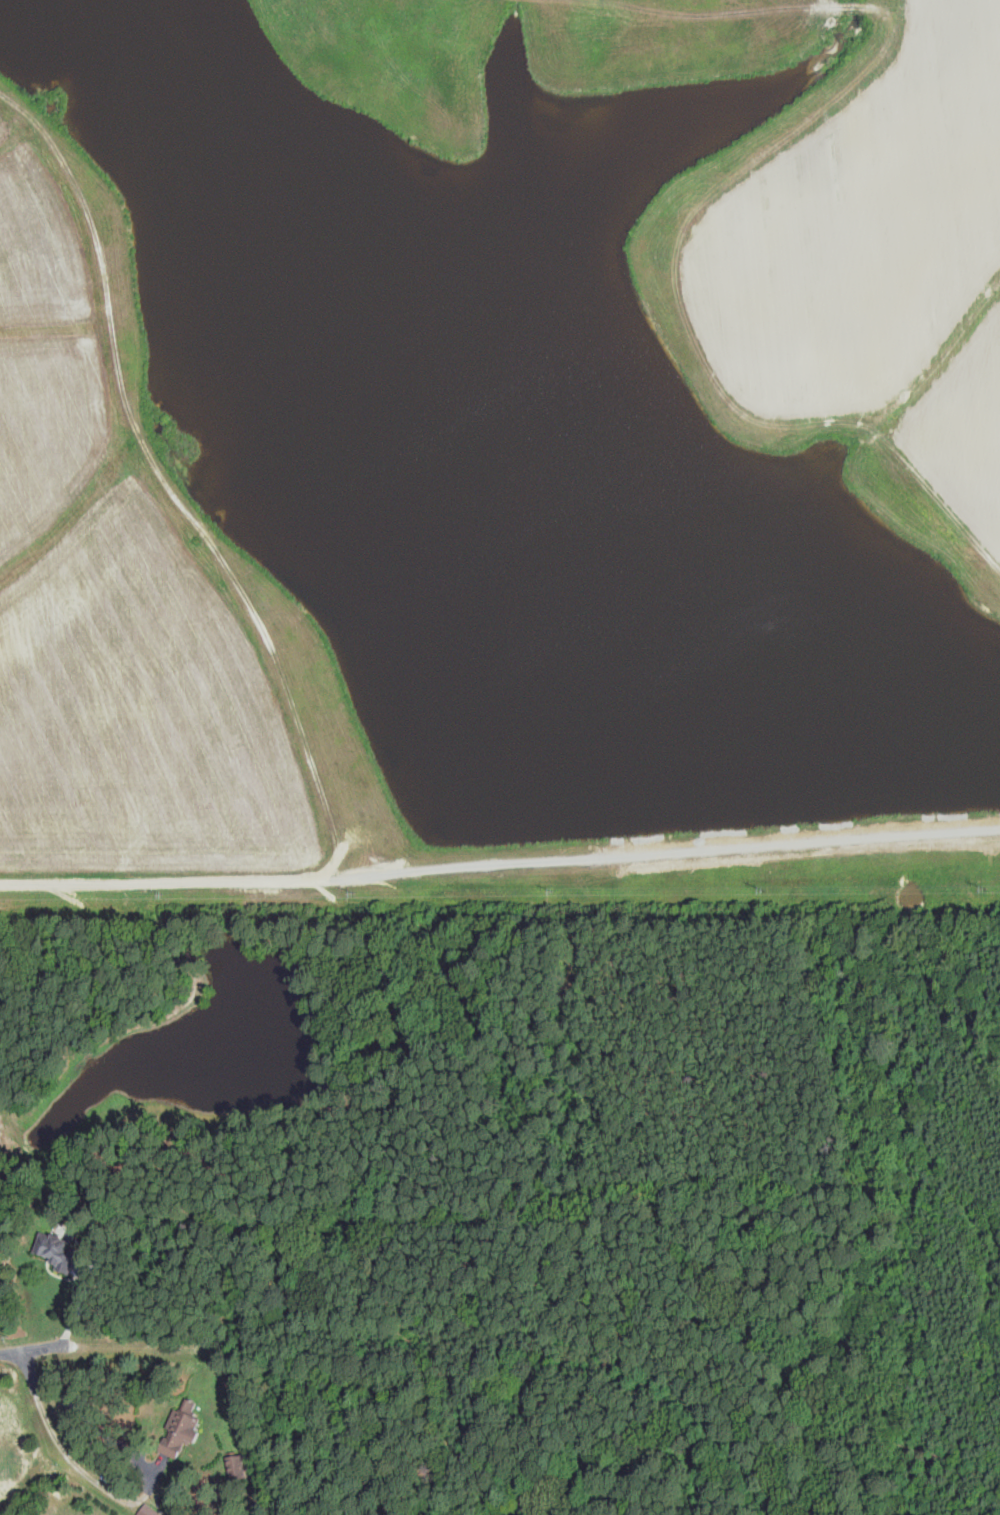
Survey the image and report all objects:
building: (53, 1247)
road: (73, 1320)
road: (433, 1344)
road: (14, 1355)
building: (181, 1430)
road: (59, 1447)
building: (5, 1463)
building: (241, 1465)

